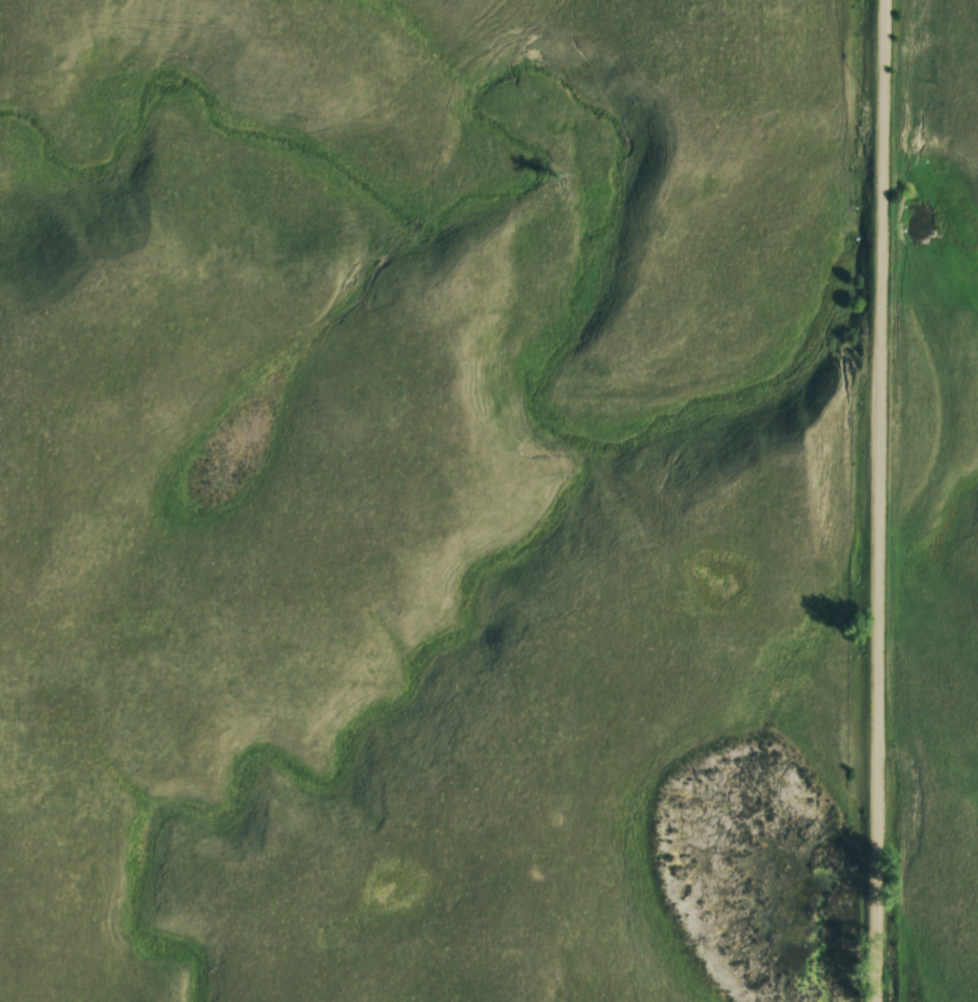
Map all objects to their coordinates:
road: (886, 501)

